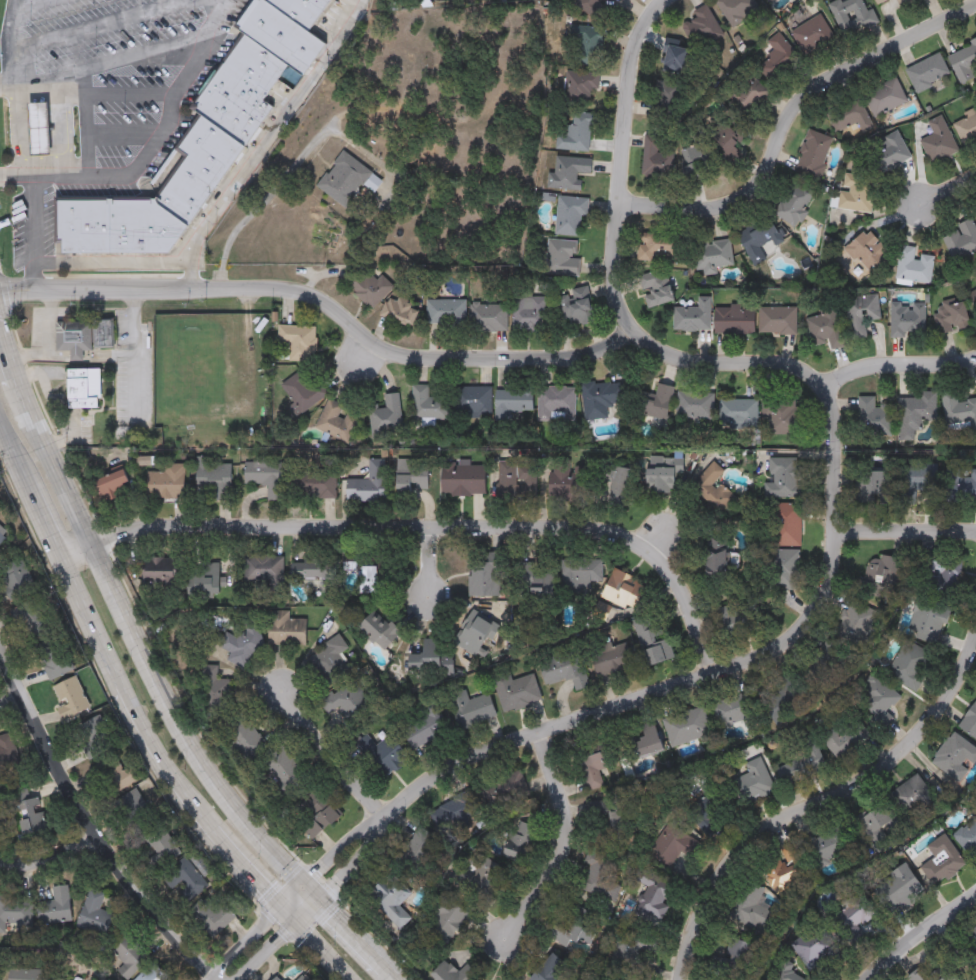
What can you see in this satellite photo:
building: (769, 1)
building: (771, 1)
building: (878, 1)
building: (902, 2)
road: (32, 4)
building: (591, 7)
building: (735, 9)
building: (300, 10)
building: (851, 15)
road: (100, 25)
building: (700, 27)
building: (278, 35)
building: (812, 35)
road: (12, 44)
building: (401, 46)
building: (587, 48)
building: (778, 58)
building: (676, 59)
building: (963, 61)
road: (111, 64)
building: (927, 72)
building: (578, 85)
building: (238, 90)
road: (128, 95)
building: (665, 95)
building: (744, 97)
building: (884, 97)
building: (848, 115)
road: (17, 123)
road: (86, 123)
road: (785, 125)
building: (965, 126)
building: (37, 129)
road: (162, 130)
building: (574, 133)
road: (123, 134)
road: (260, 140)
building: (938, 141)
building: (711, 146)
building: (887, 152)
building: (812, 154)
building: (656, 156)
building: (197, 168)
building: (567, 171)
road: (287, 173)
building: (343, 179)
road: (948, 192)
building: (856, 193)
building: (792, 203)
road: (35, 214)
building: (569, 215)
building: (114, 225)
building: (961, 239)
building: (760, 241)
building: (659, 246)
building: (865, 250)
building: (712, 256)
building: (561, 257)
road: (110, 263)
building: (913, 265)
building: (367, 287)
building: (655, 288)
building: (973, 296)
building: (574, 306)
road: (326, 307)
building: (400, 311)
building: (444, 312)
building: (528, 313)
building: (860, 313)
building: (691, 316)
building: (950, 316)
building: (487, 317)
building: (733, 319)
building: (906, 319)
building: (777, 320)
building: (824, 329)
road: (48, 330)
building: (83, 335)
building: (296, 342)
road: (131, 343)
road: (29, 356)
road: (75, 356)
road: (901, 361)
road: (13, 366)
building: (82, 388)
building: (301, 391)
building: (599, 398)
building: (472, 400)
building: (511, 402)
building: (653, 402)
building: (555, 403)
building: (427, 404)
building: (694, 405)
building: (958, 411)
building: (737, 412)
building: (914, 413)
building: (385, 416)
building: (779, 416)
building: (873, 418)
building: (336, 420)
road: (13, 444)
road: (836, 459)
building: (662, 474)
building: (411, 475)
building: (265, 476)
building: (213, 477)
building: (516, 477)
building: (782, 477)
building: (920, 478)
building: (562, 479)
building: (462, 480)
building: (165, 482)
building: (312, 483)
building: (368, 483)
building: (110, 484)
building: (615, 485)
building: (873, 485)
building: (960, 487)
building: (711, 489)
road: (44, 515)
building: (784, 524)
road: (424, 525)
road: (907, 528)
building: (2, 538)
building: (714, 560)
road: (430, 563)
building: (159, 569)
building: (261, 569)
building: (784, 569)
building: (882, 571)
building: (314, 573)
building: (579, 573)
building: (944, 573)
building: (486, 576)
building: (202, 577)
building: (16, 579)
building: (369, 579)
building: (533, 583)
building: (621, 590)
building: (600, 611)
building: (854, 616)
building: (32, 619)
building: (729, 620)
road: (93, 621)
building: (927, 622)
building: (284, 629)
building: (378, 629)
building: (475, 634)
building: (651, 640)
building: (240, 643)
building: (54, 658)
building: (609, 658)
building: (428, 659)
building: (328, 661)
building: (907, 664)
building: (563, 668)
building: (214, 689)
building: (514, 691)
building: (878, 694)
building: (782, 696)
building: (70, 698)
building: (344, 699)
road: (18, 706)
building: (470, 708)
building: (733, 712)
road: (180, 714)
building: (969, 721)
building: (422, 726)
building: (686, 726)
building: (845, 736)
building: (94, 737)
building: (243, 738)
building: (642, 744)
building: (6, 753)
building: (384, 756)
building: (954, 758)
road: (163, 760)
road: (333, 762)
building: (593, 762)
building: (799, 765)
building: (281, 767)
building: (125, 778)
building: (750, 783)
building: (504, 787)
building: (909, 795)
road: (812, 801)
building: (133, 802)
building: (456, 808)
building: (704, 808)
building: (32, 814)
building: (606, 818)
building: (2, 819)
road: (92, 819)
building: (879, 819)
building: (318, 822)
road: (565, 836)
building: (967, 836)
building: (521, 837)
building: (829, 843)
building: (163, 846)
building: (669, 847)
road: (54, 849)
building: (942, 860)
building: (785, 868)
road: (248, 869)
building: (480, 875)
building: (597, 876)
building: (185, 879)
traffic signals: (309, 881)
building: (896, 887)
road: (295, 895)
building: (651, 895)
traffic signals: (323, 896)
building: (389, 902)
road: (315, 903)
building: (55, 907)
building: (748, 907)
building: (8, 908)
traffic signals: (282, 909)
building: (94, 914)
road: (289, 915)
building: (213, 917)
building: (852, 919)
building: (444, 921)
traffic signals: (296, 923)
building: (572, 926)
road: (924, 940)
building: (814, 947)
building: (964, 949)
road: (322, 951)
building: (629, 951)
building: (128, 953)
building: (732, 961)
building: (549, 969)
building: (452, 972)
building: (152, 973)
building: (26, 974)
building: (935, 974)
building: (278, 978)
building: (301, 979)

